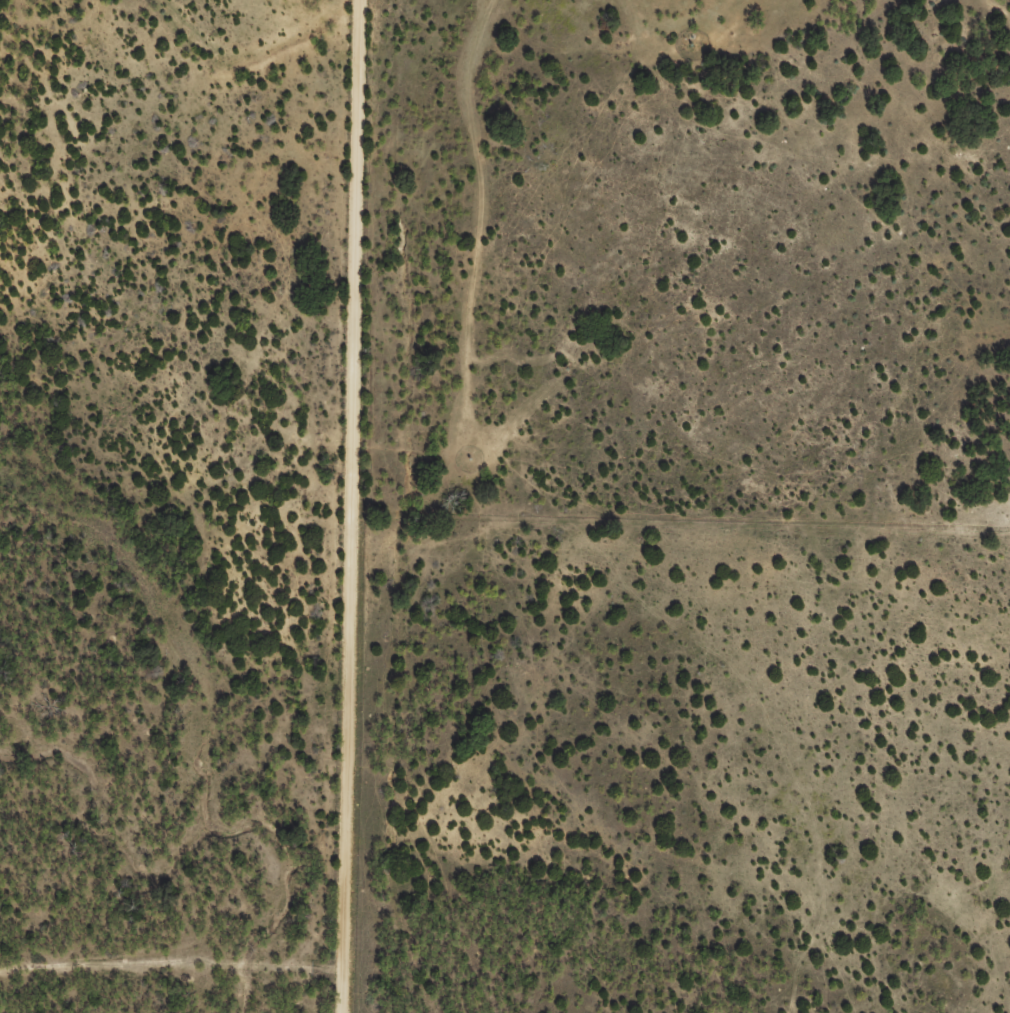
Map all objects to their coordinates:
road: (353, 506)

